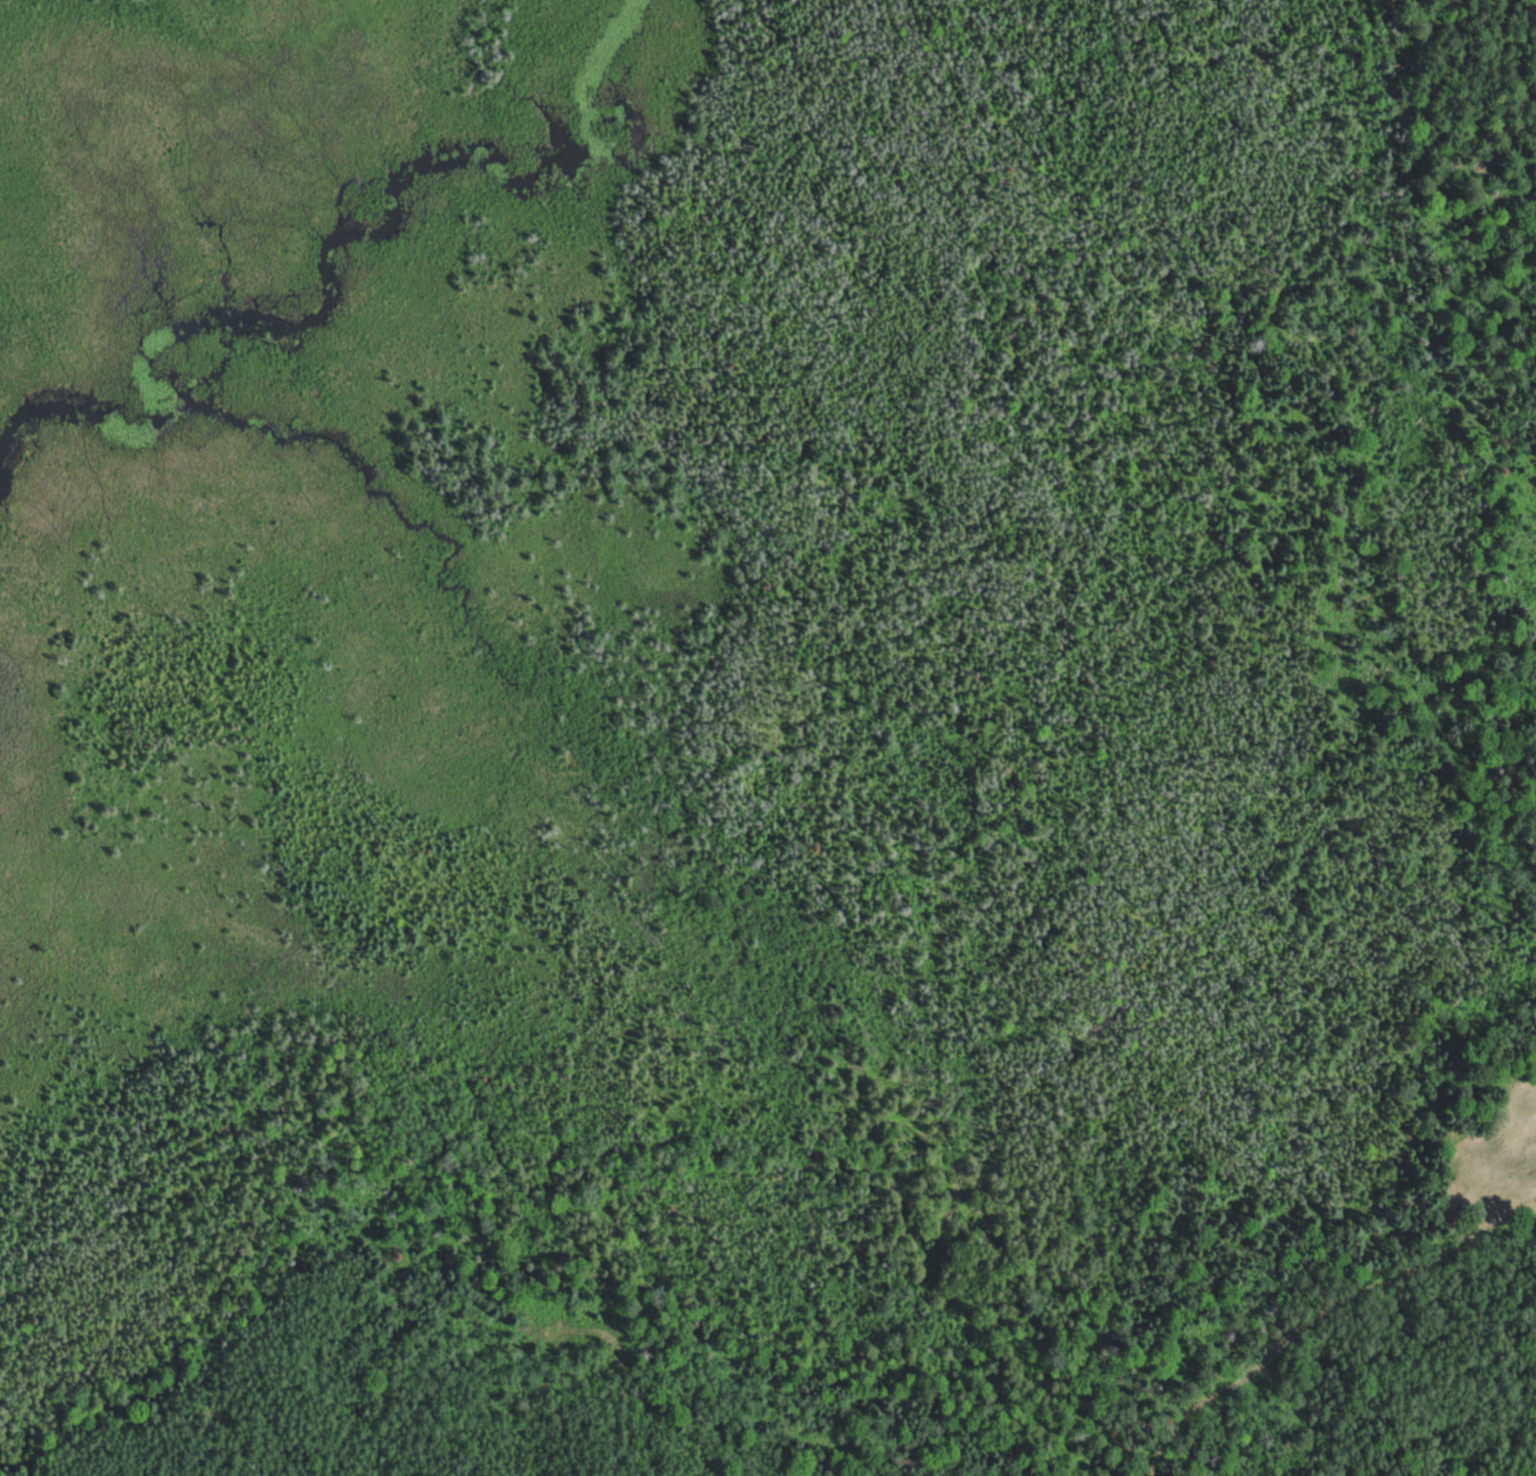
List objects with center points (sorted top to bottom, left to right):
road: (1326, 1320)

